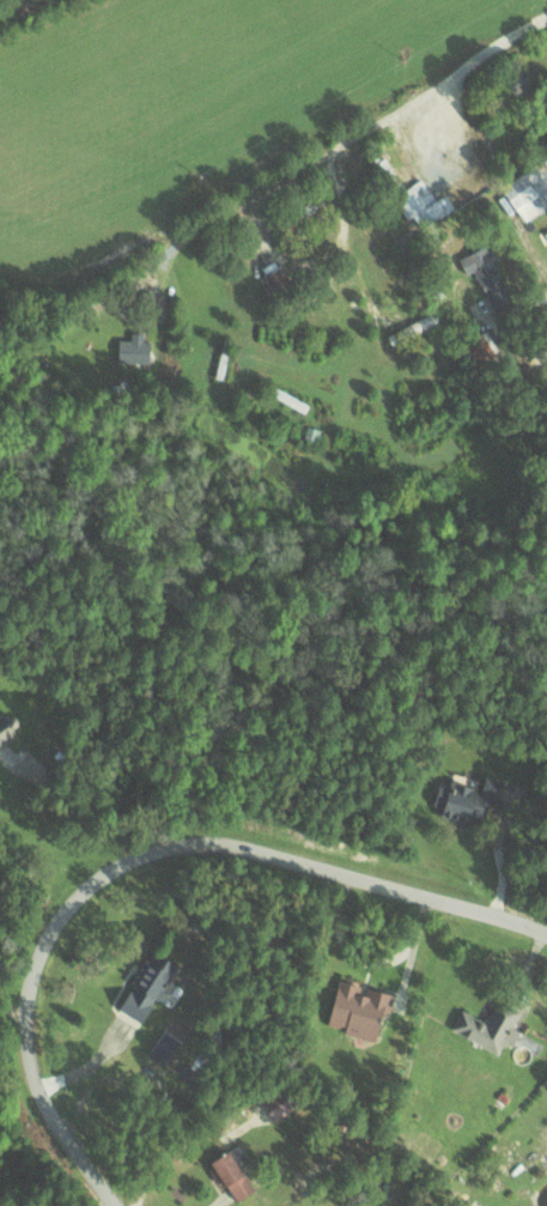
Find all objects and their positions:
road: (17, 8)
road: (275, 182)
building: (527, 192)
building: (423, 204)
building: (273, 275)
building: (487, 275)
building: (480, 344)
building: (133, 347)
building: (7, 728)
road: (80, 805)
road: (141, 856)
building: (145, 986)
building: (358, 1008)
building: (488, 1026)
building: (279, 1102)
building: (230, 1175)
building: (473, 1204)

